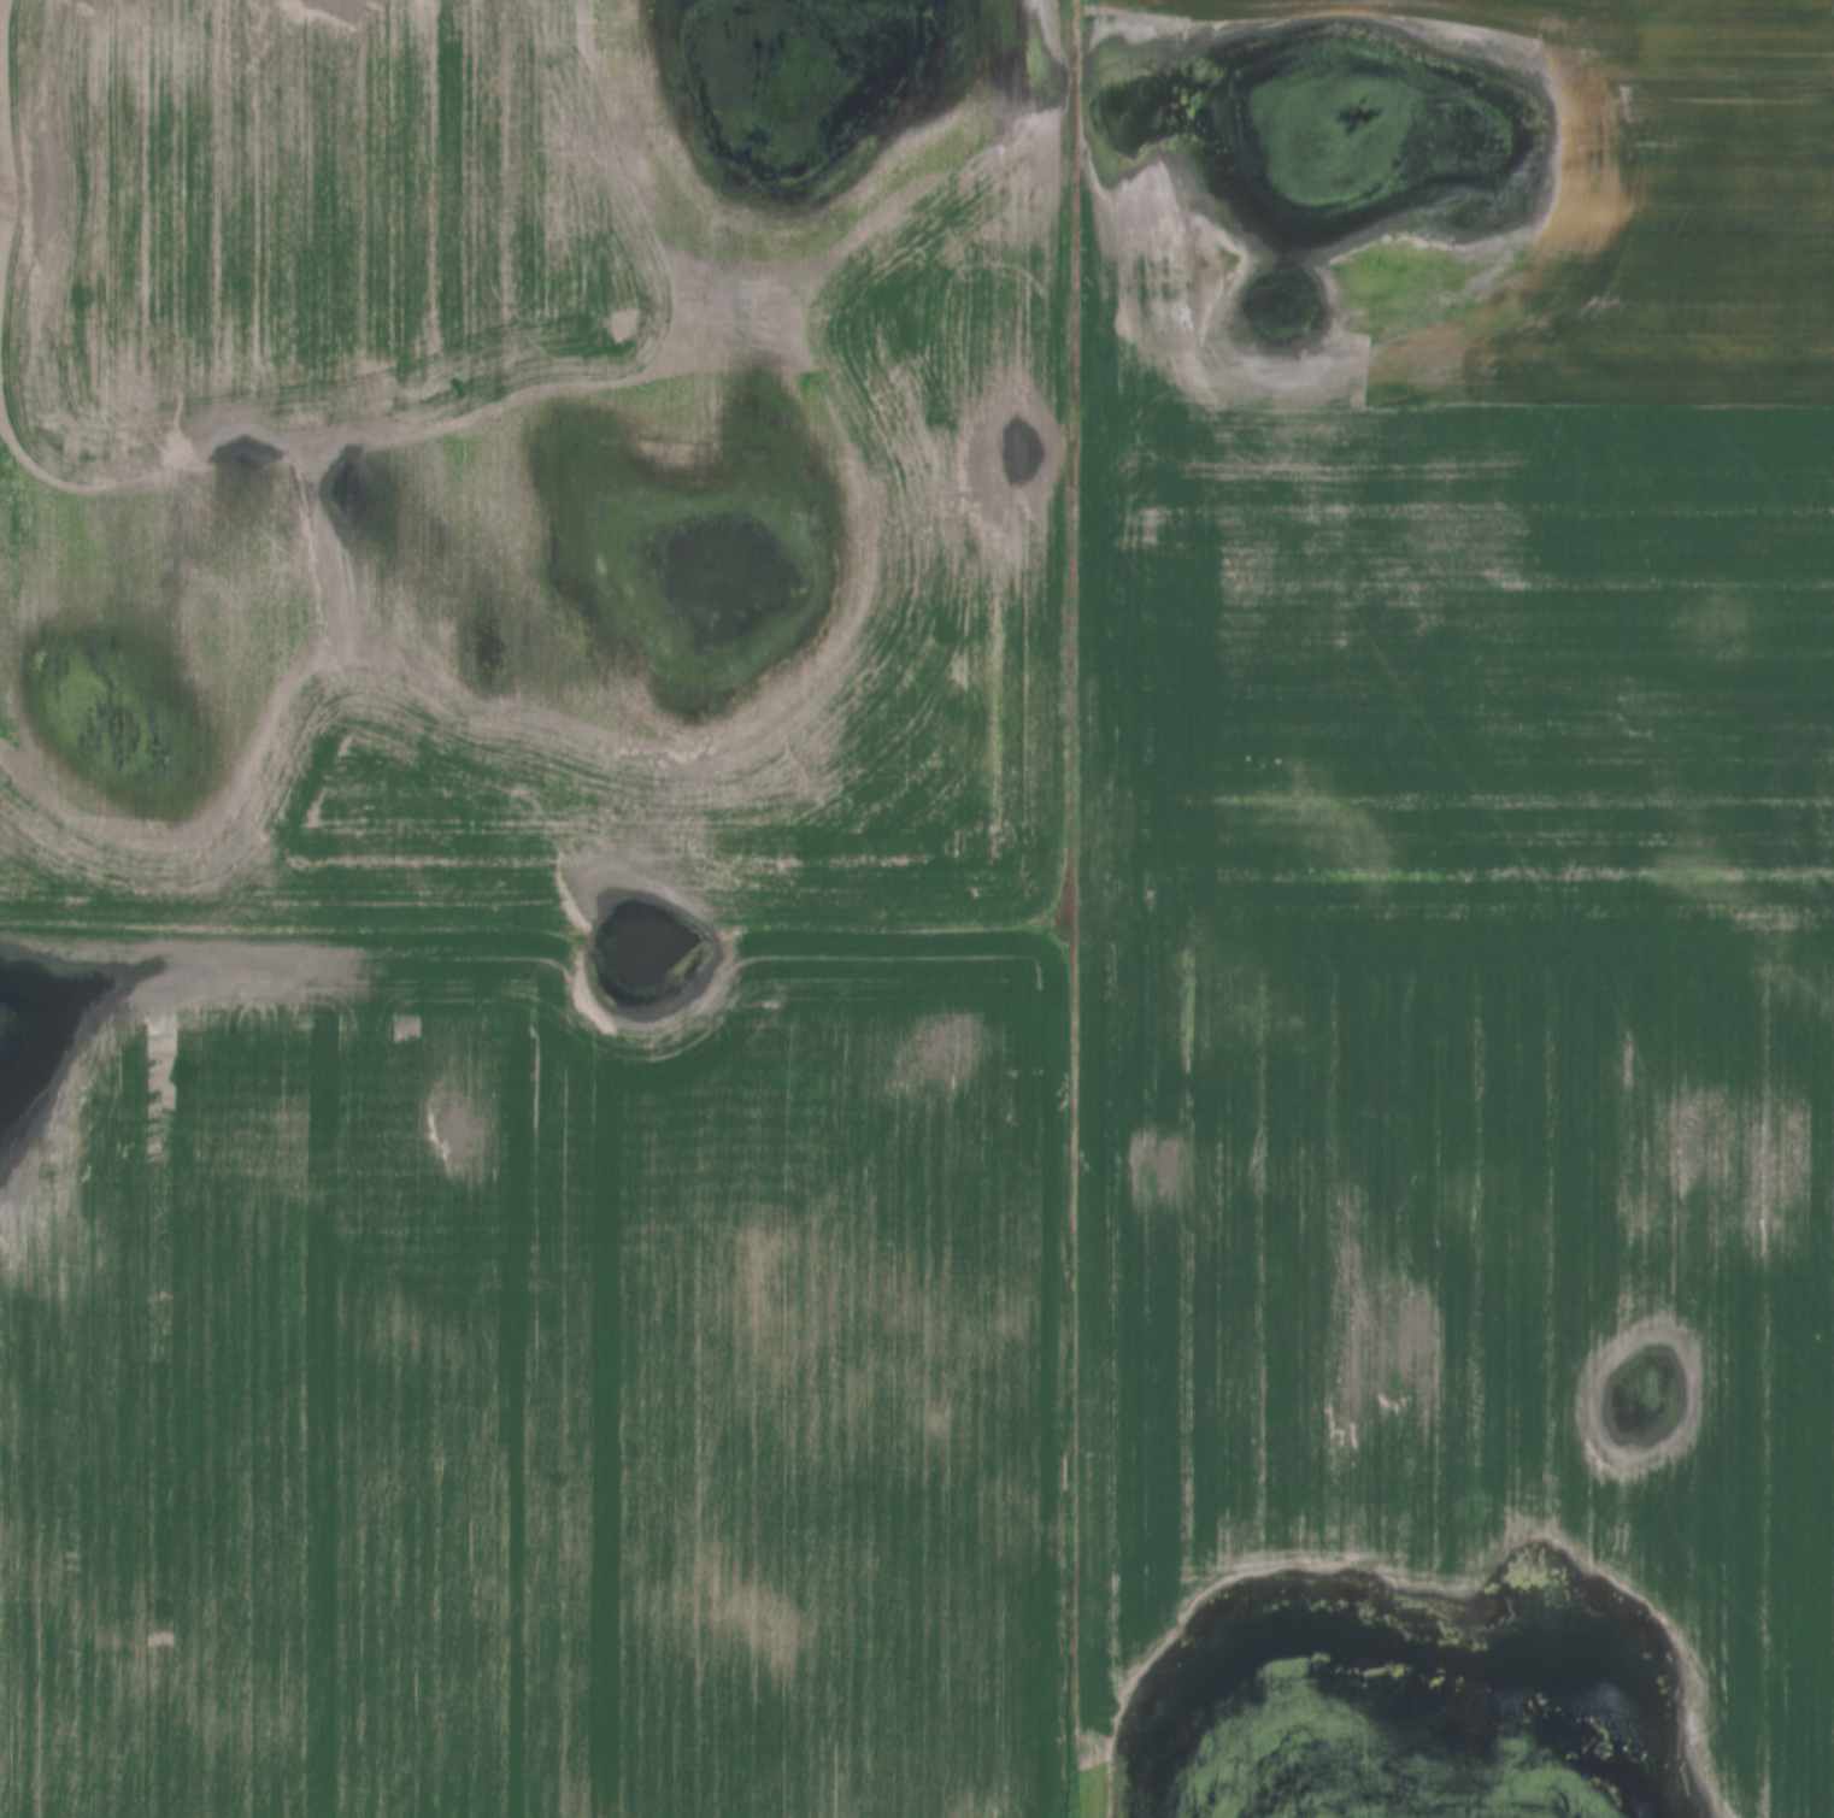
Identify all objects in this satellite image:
crop: (1460, 1066)

